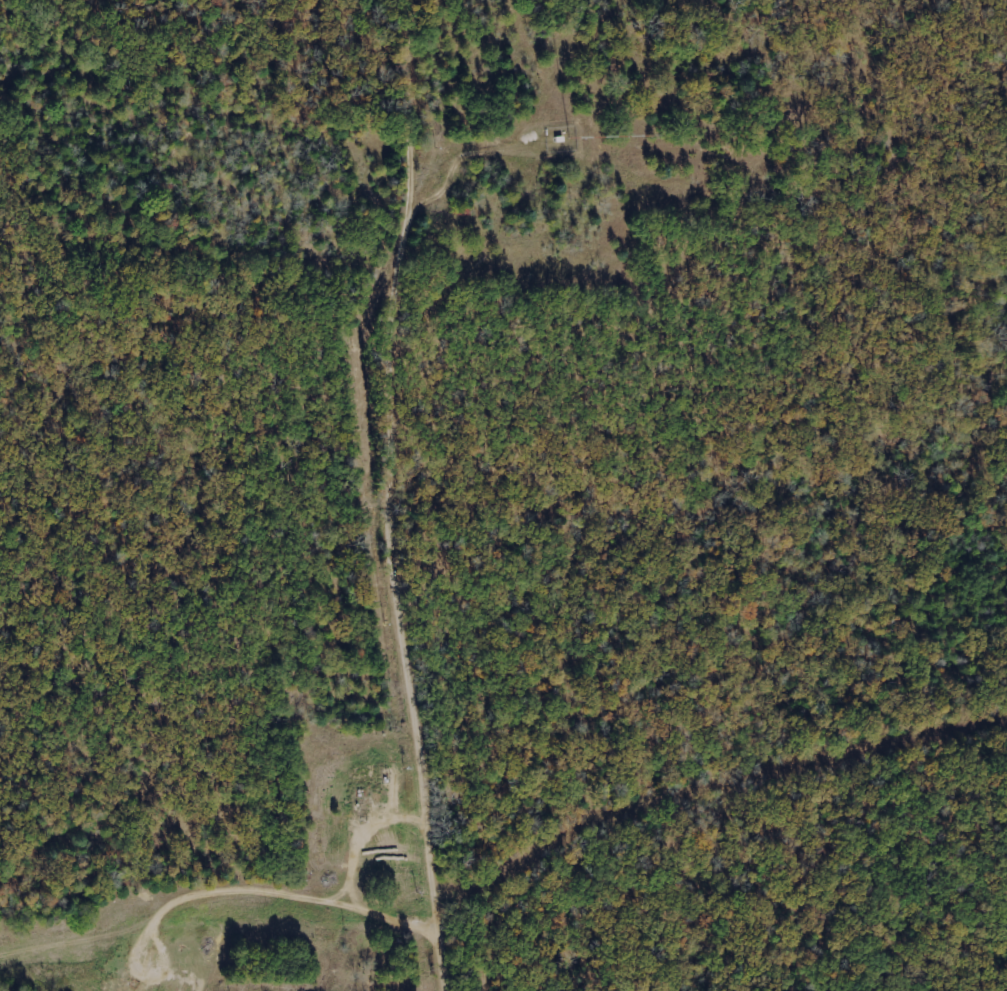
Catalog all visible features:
road: (395, 357)
park: (455, 372)
road: (431, 853)

